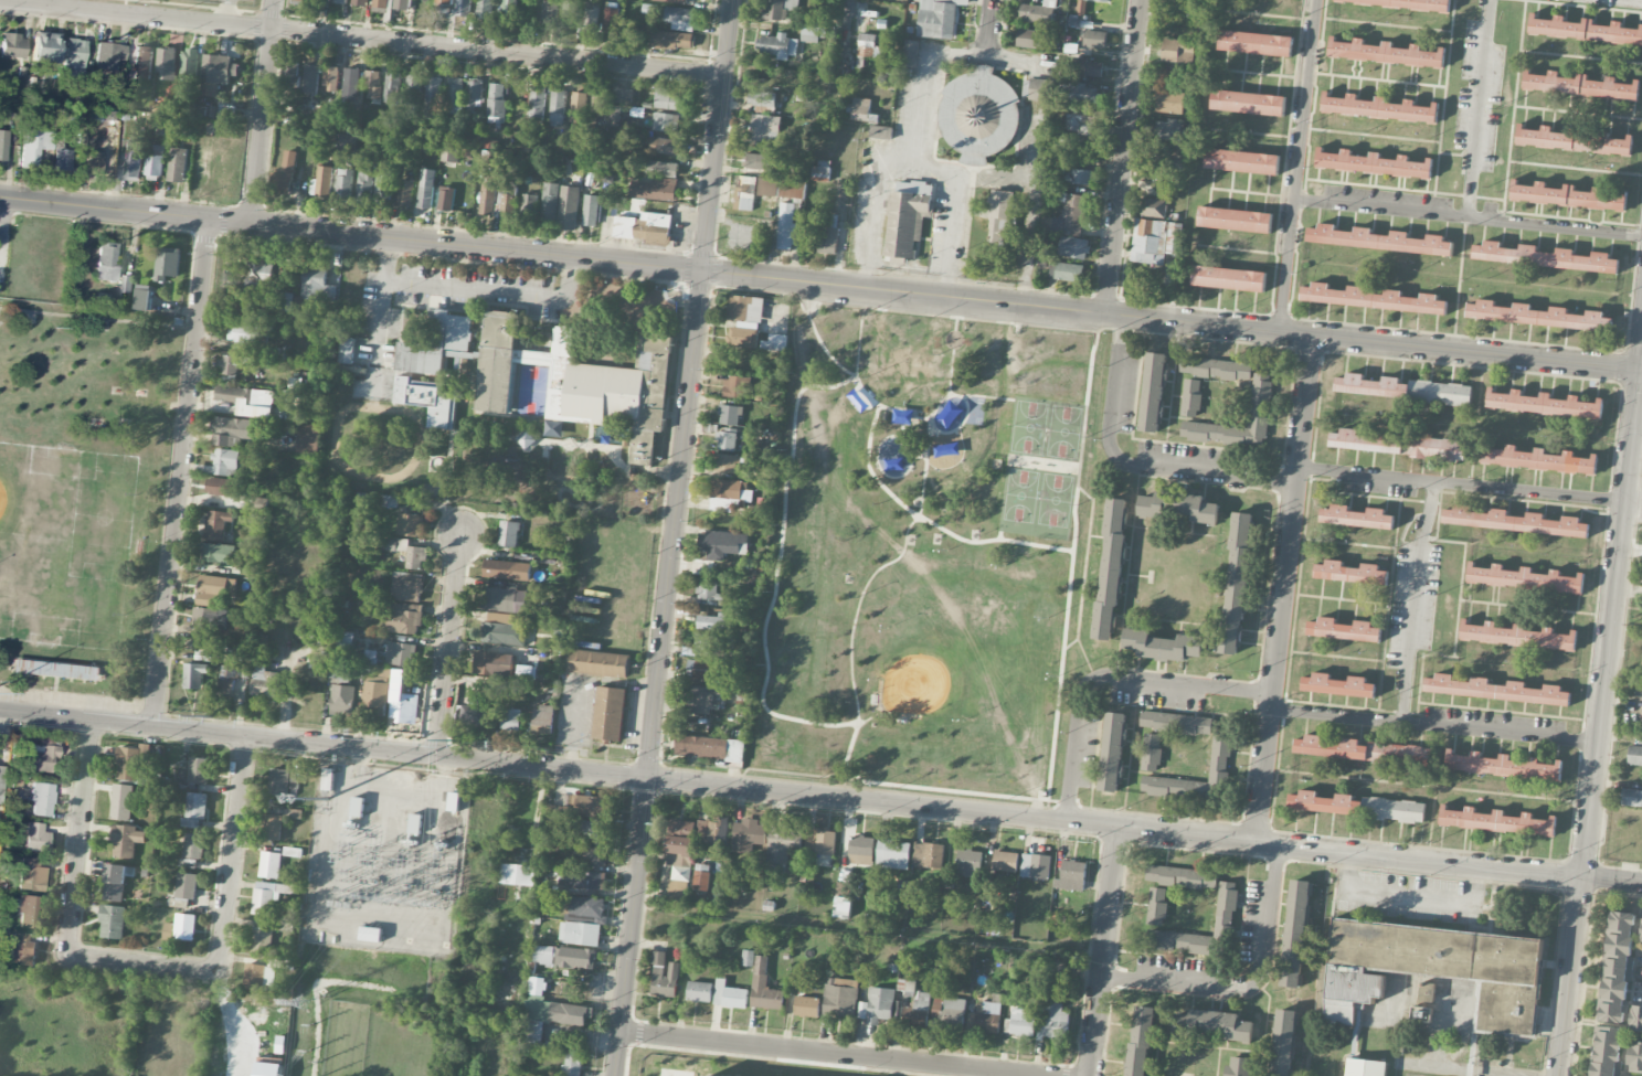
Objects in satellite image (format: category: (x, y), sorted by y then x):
building: (304, 0)
building: (319, 0)
building: (1104, 0)
building: (339, 1)
building: (677, 1)
building: (360, 2)
building: (445, 2)
building: (1413, 3)
building: (403, 4)
building: (381, 6)
road: (1589, 6)
building: (463, 8)
building: (1178, 8)
building: (485, 9)
building: (781, 9)
building: (508, 11)
road: (225, 12)
building: (549, 12)
building: (1039, 12)
building: (569, 13)
building: (586, 14)
road: (850, 15)
road: (1272, 15)
building: (680, 18)
building: (611, 19)
building: (936, 19)
road: (1384, 23)
road: (989, 29)
building: (1586, 30)
building: (814, 33)
road: (362, 39)
building: (1030, 39)
building: (1098, 39)
building: (672, 40)
building: (1254, 42)
building: (12, 45)
building: (777, 45)
building: (44, 46)
building: (868, 47)
building: (1178, 51)
building: (1386, 51)
building: (909, 53)
building: (108, 55)
road: (1581, 56)
building: (74, 57)
building: (141, 62)
building: (167, 63)
building: (189, 66)
building: (219, 68)
building: (1088, 68)
building: (290, 75)
road: (1268, 76)
road: (921, 77)
building: (310, 78)
building: (331, 78)
road: (1378, 79)
building: (351, 83)
building: (1581, 84)
building: (372, 85)
building: (391, 87)
building: (1037, 89)
building: (209, 90)
building: (413, 90)
building: (1083, 94)
building: (454, 95)
building: (473, 95)
building: (623, 95)
building: (433, 97)
building: (764, 98)
building: (668, 99)
road: (1306, 100)
building: (1170, 102)
building: (1249, 102)
building: (496, 103)
building: (537, 104)
building: (598, 106)
building: (557, 107)
building: (578, 107)
building: (1380, 107)
road: (1443, 107)
building: (860, 109)
road: (1479, 109)
building: (225, 111)
road: (263, 111)
road: (1514, 111)
road: (1578, 111)
building: (102, 115)
building: (978, 115)
building: (1076, 120)
building: (666, 122)
building: (765, 128)
building: (1168, 129)
building: (880, 132)
road: (1256, 132)
building: (109, 134)
road: (1371, 135)
building: (1575, 139)
building: (2, 146)
building: (33, 146)
building: (347, 146)
building: (665, 146)
building: (449, 155)
road: (1456, 155)
road: (1122, 156)
building: (62, 159)
building: (1242, 159)
building: (133, 160)
building: (754, 161)
building: (1374, 162)
building: (1180, 163)
building: (155, 164)
building: (177, 164)
road: (917, 164)
building: (95, 166)
road: (1576, 168)
building: (661, 169)
building: (820, 171)
building: (284, 173)
building: (1074, 177)
building: (324, 182)
building: (383, 183)
building: (343, 184)
building: (363, 187)
building: (767, 187)
building: (426, 189)
building: (654, 189)
building: (791, 189)
building: (405, 193)
building: (744, 193)
road: (1253, 195)
building: (1568, 195)
building: (446, 199)
building: (487, 199)
building: (550, 202)
building: (505, 205)
building: (529, 206)
building: (569, 207)
building: (1153, 207)
building: (590, 210)
road: (1381, 210)
building: (907, 217)
building: (1000, 217)
building: (1068, 217)
building: (1236, 217)
building: (645, 227)
building: (786, 227)
road: (1555, 228)
building: (1381, 238)
building: (827, 239)
building: (1152, 242)
road: (1246, 249)
building: (1546, 256)
building: (106, 260)
building: (167, 263)
road: (1288, 266)
building: (1069, 271)
building: (259, 275)
road: (1465, 276)
building: (1229, 277)
road: (819, 283)
building: (126, 284)
road: (1460, 284)
road: (382, 286)
building: (314, 289)
road: (494, 292)
building: (236, 295)
building: (144, 298)
building: (1374, 298)
building: (286, 301)
building: (1540, 315)
building: (745, 320)
building: (775, 342)
building: (438, 345)
building: (237, 349)
building: (347, 350)
road: (1641, 360)
building: (1216, 367)
road: (1641, 370)
building: (580, 382)
building: (734, 387)
building: (1403, 390)
building: (1153, 392)
building: (1190, 397)
building: (1260, 397)
building: (247, 401)
building: (293, 402)
building: (426, 402)
road: (1639, 402)
building: (1543, 404)
building: (729, 415)
building: (234, 430)
building: (309, 439)
building: (725, 439)
building: (1399, 445)
building: (1537, 459)
building: (225, 461)
building: (723, 462)
road: (1132, 465)
road: (181, 473)
road: (1460, 482)
building: (222, 487)
road: (1135, 489)
building: (728, 493)
road: (1633, 496)
building: (386, 501)
park: (88, 502)
building: (259, 504)
building: (1178, 507)
building: (1357, 516)
building: (1514, 521)
building: (216, 524)
building: (409, 524)
building: (509, 533)
road: (675, 537)
road: (1441, 539)
building: (721, 543)
building: (407, 552)
building: (216, 553)
park: (923, 554)
building: (507, 569)
building: (1111, 569)
building: (1350, 573)
building: (1524, 578)
building: (1237, 583)
building: (407, 586)
building: (213, 588)
road: (1282, 588)
building: (706, 589)
building: (499, 599)
road: (1413, 599)
road: (1388, 604)
road: (1535, 607)
building: (210, 618)
building: (405, 618)
building: (714, 622)
building: (505, 629)
building: (1343, 630)
building: (1516, 636)
road: (448, 642)
building: (711, 643)
building: (1163, 646)
building: (402, 653)
building: (492, 663)
building: (598, 663)
building: (703, 669)
building: (56, 670)
building: (527, 672)
building: (194, 675)
road: (1108, 675)
building: (229, 680)
building: (265, 684)
building: (1337, 685)
building: (1495, 690)
building: (1638, 692)
building: (377, 694)
building: (610, 713)
building: (468, 716)
power tower: (212, 717)
building: (510, 718)
building: (542, 720)
road: (1599, 722)
building: (1176, 723)
road: (1433, 724)
power tower: (448, 739)
building: (710, 748)
building: (1363, 750)
building: (1112, 752)
building: (1151, 752)
road: (1131, 753)
building: (1220, 753)
building: (41, 754)
building: (1634, 755)
road: (360, 761)
building: (129, 764)
road: (445, 765)
building: (1503, 766)
building: (194, 770)
building: (0, 776)
building: (328, 778)
building: (279, 781)
road: (820, 795)
building: (1631, 798)
building: (41, 799)
building: (121, 802)
building: (1323, 803)
building: (358, 806)
building: (591, 806)
building: (195, 810)
building: (1392, 810)
building: (294, 813)
building: (1496, 821)
building: (415, 822)
building: (272, 825)
building: (681, 825)
building: (590, 827)
building: (446, 829)
building: (711, 831)
building: (748, 834)
building: (35, 837)
road: (78, 840)
building: (126, 840)
building: (819, 841)
building: (782, 842)
building: (193, 845)
building: (680, 845)
building: (861, 850)
road: (233, 852)
building: (892, 854)
building: (928, 854)
building: (593, 855)
power substation: (385, 859)
building: (1005, 861)
building: (970, 863)
building: (271, 864)
building: (1035, 866)
building: (30, 874)
building: (519, 874)
building: (678, 875)
building: (1071, 875)
building: (1182, 876)
building: (701, 878)
building: (116, 881)
building: (582, 882)
building: (187, 885)
building: (267, 896)
road: (1406, 897)
building: (1156, 906)
building: (1226, 906)
building: (843, 907)
building: (587, 908)
building: (28, 910)
building: (113, 921)
building: (181, 928)
road: (867, 930)
building: (371, 933)
building: (580, 934)
building: (1295, 934)
building: (1641, 937)
building: (262, 939)
building: (22, 949)
road: (1100, 950)
building: (543, 955)
building: (578, 958)
building: (748, 958)
road: (147, 966)
building: (1617, 967)
building: (1437, 970)
building: (664, 976)
building: (259, 977)
building: (905, 984)
building: (764, 987)
road: (1247, 988)
building: (699, 991)
building: (1427, 992)
building: (729, 995)
building: (840, 997)
power tower: (305, 1003)
building: (551, 1005)
building: (877, 1005)
building: (806, 1006)
building: (918, 1011)
building: (950, 1011)
building: (1421, 1014)
building: (984, 1018)
building: (1635, 1018)
building: (1053, 1021)
building: (1020, 1022)
building: (1212, 1024)
road: (1265, 1025)
building: (532, 1032)
building: (1138, 1041)
building: (1283, 1043)
building: (1607, 1052)
road: (833, 1054)
building: (1634, 1056)
building: (572, 1065)
building: (1237, 1066)
building: (1365, 1067)

